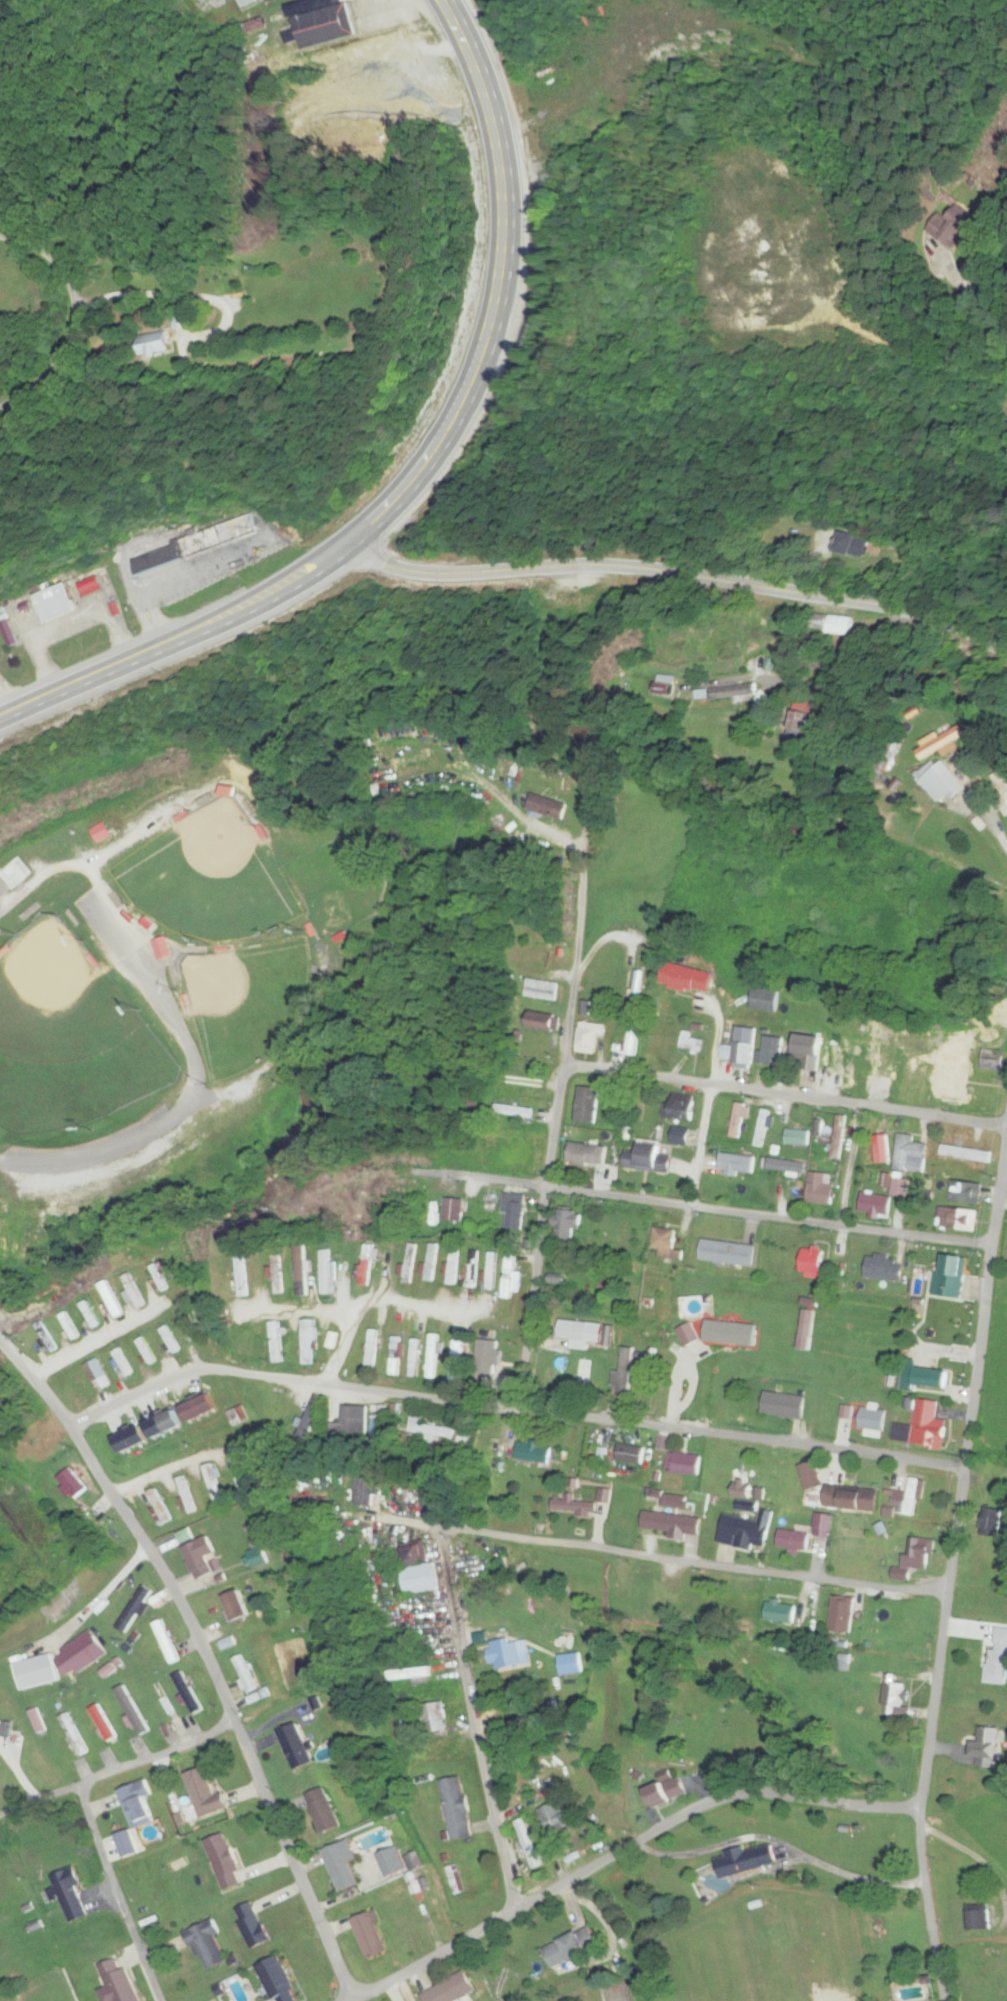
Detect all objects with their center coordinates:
building: (246, 2)
building: (324, 25)
road: (497, 292)
road: (988, 318)
road: (73, 319)
building: (161, 348)
building: (195, 546)
road: (679, 574)
building: (55, 603)
building: (843, 624)
road: (177, 643)
building: (734, 690)
building: (802, 722)
building: (944, 779)
building: (1000, 787)
building: (548, 806)
building: (101, 832)
road: (91, 860)
building: (14, 873)
park: (217, 875)
road: (558, 901)
road: (579, 919)
building: (163, 948)
building: (688, 978)
building: (541, 990)
park: (252, 998)
building: (765, 1000)
building: (542, 1022)
park: (72, 1032)
building: (590, 1037)
building: (632, 1040)
building: (691, 1043)
building: (808, 1049)
building: (774, 1050)
building: (741, 1055)
building: (993, 1059)
building: (838, 1067)
building: (898, 1072)
road: (202, 1075)
building: (525, 1082)
building: (949, 1088)
road: (785, 1096)
building: (588, 1105)
building: (681, 1109)
building: (518, 1111)
building: (762, 1128)
building: (798, 1137)
building: (838, 1137)
building: (883, 1149)
building: (910, 1154)
building: (966, 1154)
building: (647, 1156)
building: (737, 1163)
building: (787, 1166)
road: (493, 1181)
road: (546, 1185)
building: (821, 1188)
building: (964, 1192)
building: (884, 1198)
building: (454, 1209)
building: (515, 1211)
road: (770, 1217)
building: (957, 1218)
building: (568, 1224)
building: (667, 1245)
building: (728, 1253)
building: (431, 1262)
building: (411, 1263)
building: (813, 1263)
building: (367, 1265)
building: (452, 1265)
building: (887, 1267)
building: (473, 1268)
building: (276, 1271)
building: (491, 1271)
building: (326, 1272)
building: (956, 1273)
building: (160, 1274)
building: (241, 1274)
building: (301, 1274)
building: (508, 1275)
road: (92, 1287)
road: (447, 1312)
road: (302, 1313)
building: (90, 1314)
building: (70, 1326)
building: (581, 1334)
building: (46, 1337)
building: (171, 1339)
building: (331, 1340)
building: (276, 1342)
building: (307, 1342)
road: (101, 1343)
road: (342, 1348)
building: (147, 1351)
building: (372, 1353)
building: (396, 1356)
building: (433, 1356)
building: (416, 1358)
building: (488, 1360)
building: (122, 1363)
building: (100, 1374)
building: (925, 1377)
road: (288, 1381)
building: (786, 1406)
building: (201, 1409)
building: (843, 1413)
building: (238, 1416)
building: (874, 1420)
building: (349, 1424)
building: (380, 1424)
building: (165, 1425)
building: (923, 1427)
building: (429, 1429)
road: (740, 1438)
building: (132, 1440)
building: (535, 1453)
building: (634, 1454)
building: (685, 1464)
road: (166, 1469)
building: (239, 1474)
building: (781, 1476)
building: (812, 1476)
road: (963, 1481)
building: (213, 1483)
building: (74, 1484)
building: (365, 1493)
building: (187, 1496)
building: (852, 1498)
building: (909, 1498)
building: (159, 1507)
building: (576, 1507)
building: (989, 1522)
building: (673, 1523)
building: (825, 1524)
building: (748, 1532)
building: (794, 1539)
building: (917, 1555)
building: (258, 1558)
building: (204, 1559)
road: (676, 1562)
road: (444, 1576)
building: (422, 1578)
building: (639, 1587)
building: (237, 1606)
building: (136, 1610)
building: (780, 1612)
building: (845, 1613)
building: (168, 1642)
road: (206, 1651)
building: (511, 1653)
building: (81, 1654)
building: (999, 1661)
building: (573, 1664)
building: (109, 1670)
building: (37, 1672)
building: (246, 1674)
building: (190, 1694)
building: (162, 1696)
building: (896, 1699)
building: (433, 1718)
building: (38, 1721)
building: (105, 1723)
building: (74, 1735)
road: (481, 1746)
building: (297, 1748)
building: (988, 1748)
road: (118, 1772)
building: (668, 1792)
building: (206, 1794)
building: (138, 1805)
building: (456, 1809)
building: (324, 1811)
building: (553, 1817)
building: (127, 1842)
building: (528, 1844)
road: (630, 1854)
building: (747, 1861)
building: (226, 1862)
building: (392, 1862)
building: (342, 1866)
building: (455, 1880)
road: (117, 1894)
building: (71, 1895)
road: (928, 1907)
building: (972, 1921)
building: (253, 1926)
building: (369, 1934)
building: (208, 1946)
building: (570, 1950)
building: (279, 1981)
building: (117, 1982)
building: (452, 1990)

